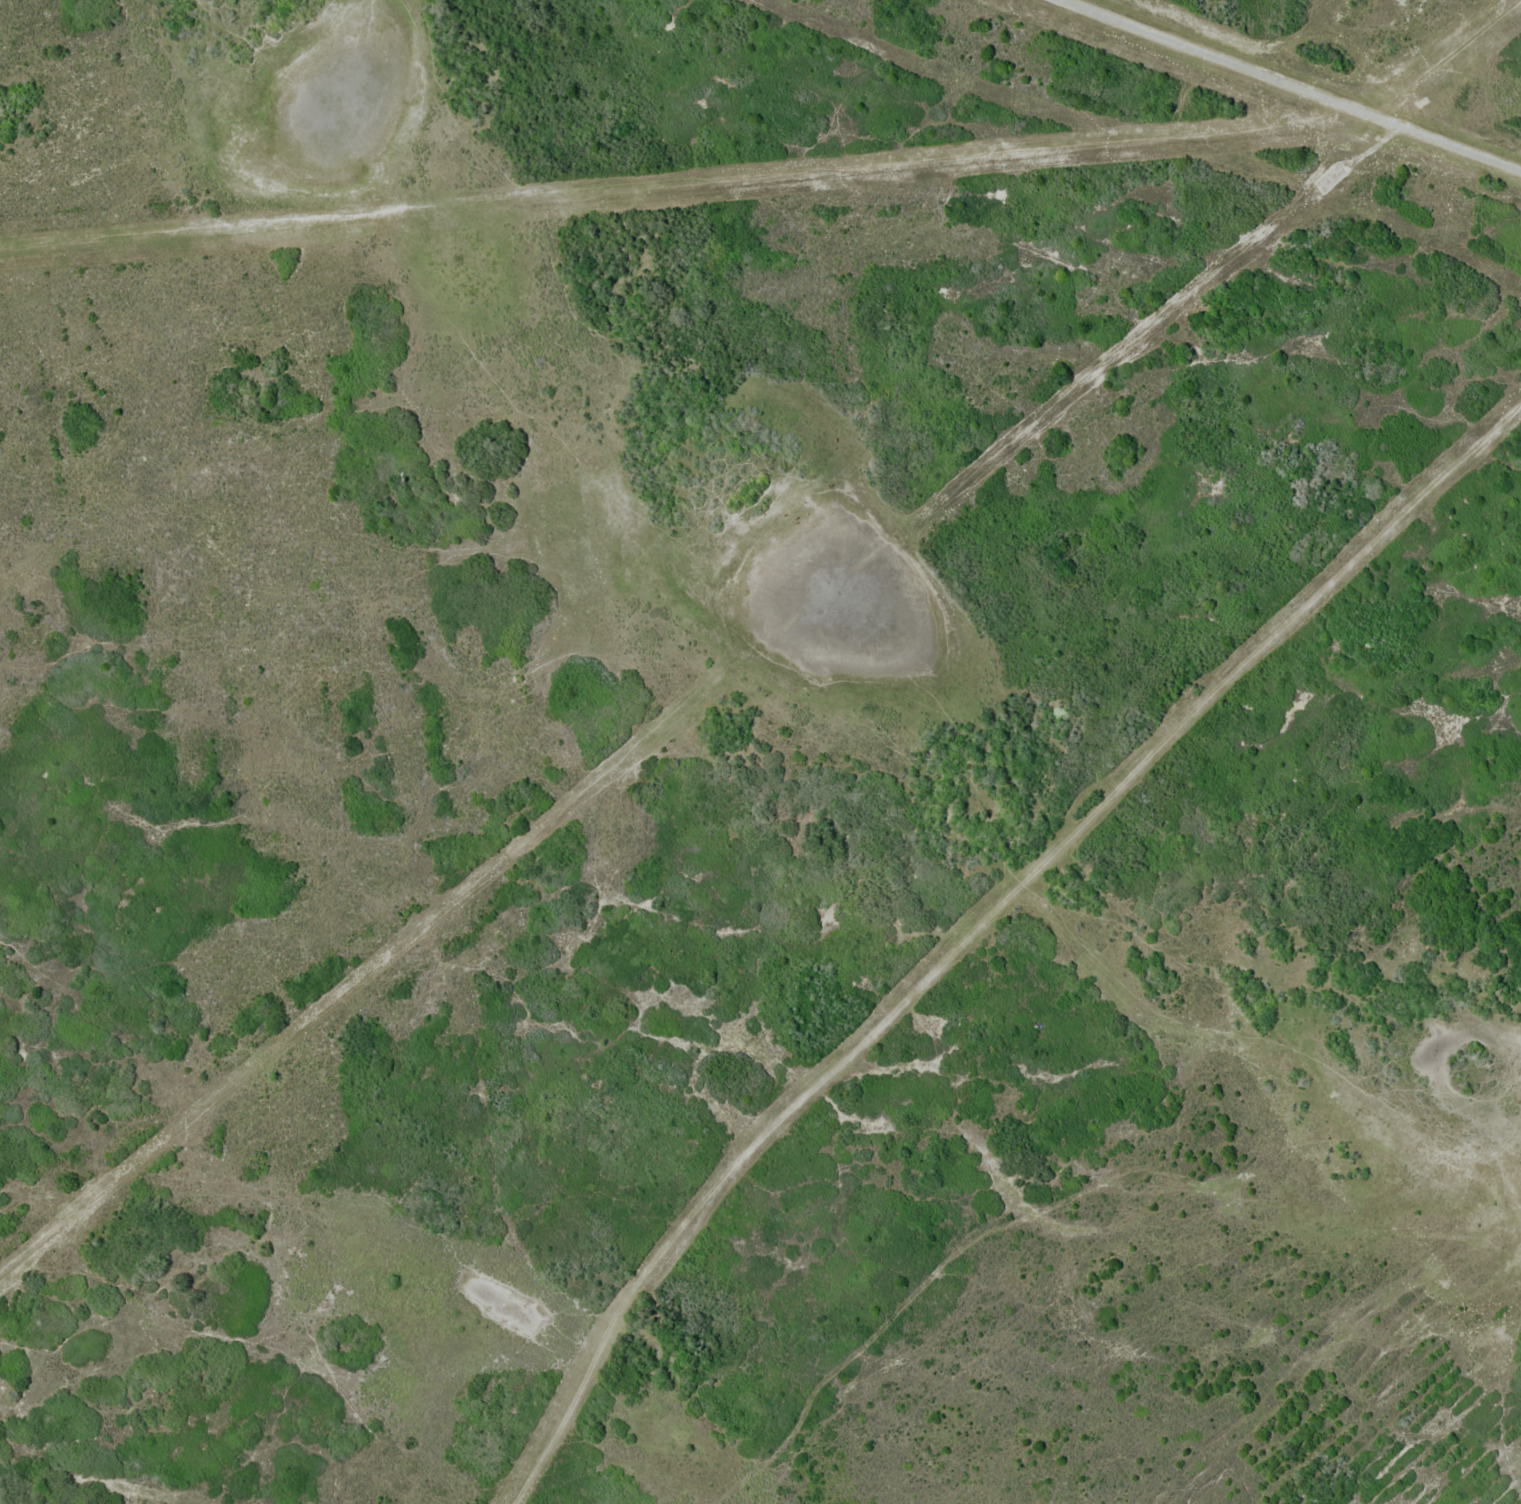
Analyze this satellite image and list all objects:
road: (1307, 78)
road: (973, 912)

